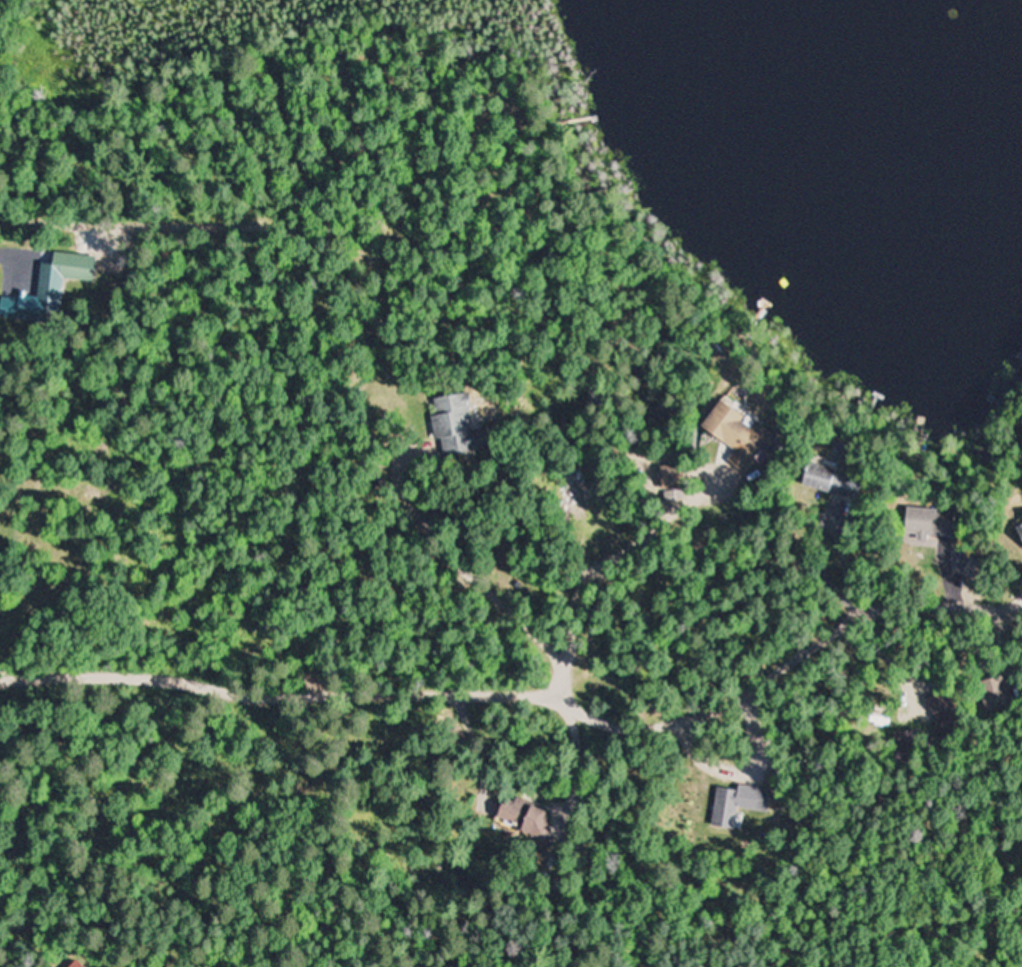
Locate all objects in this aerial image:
building: (66, 271)
building: (456, 425)
building: (735, 434)
building: (823, 476)
building: (928, 521)
building: (1019, 529)
road: (939, 604)
road: (368, 707)
building: (904, 745)
building: (523, 818)

